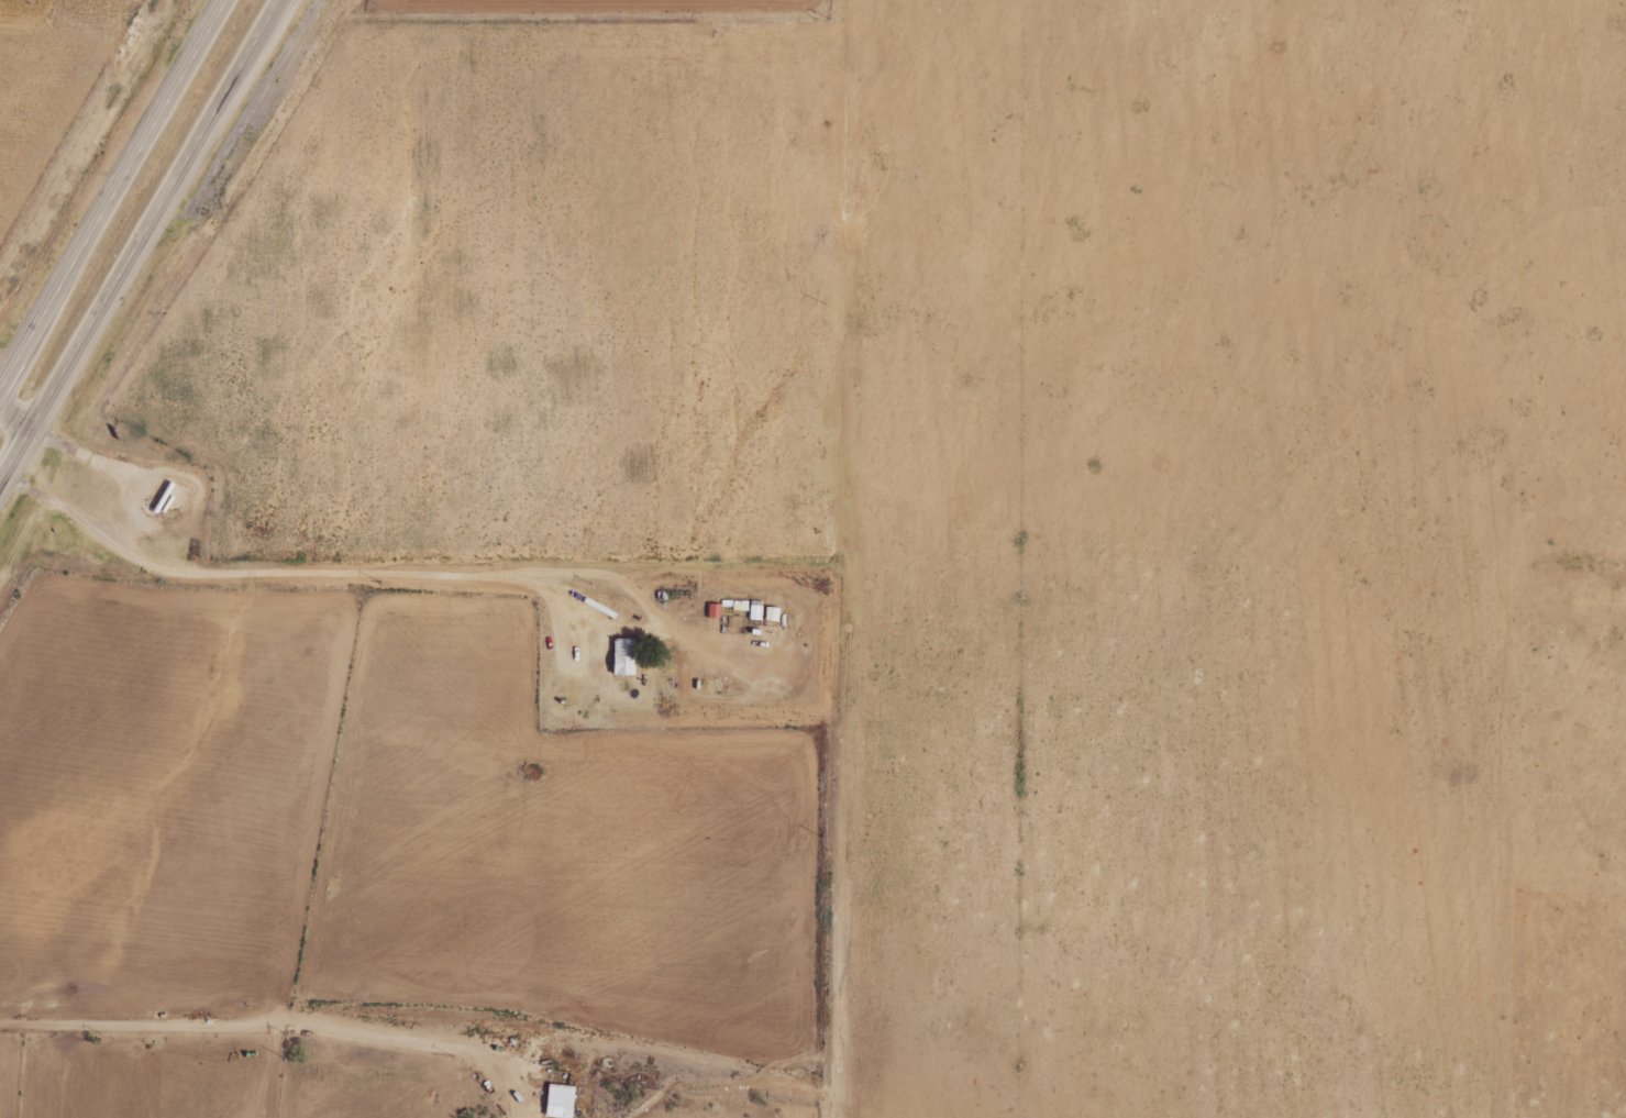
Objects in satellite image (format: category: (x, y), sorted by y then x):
road: (112, 195)
road: (153, 215)
road: (14, 421)
road: (14, 457)
road: (31, 465)
road: (109, 468)
road: (23, 538)
road: (823, 558)
building: (715, 611)
building: (756, 612)
building: (626, 657)
road: (577, 826)
road: (543, 975)
road: (512, 1086)
building: (556, 1100)

